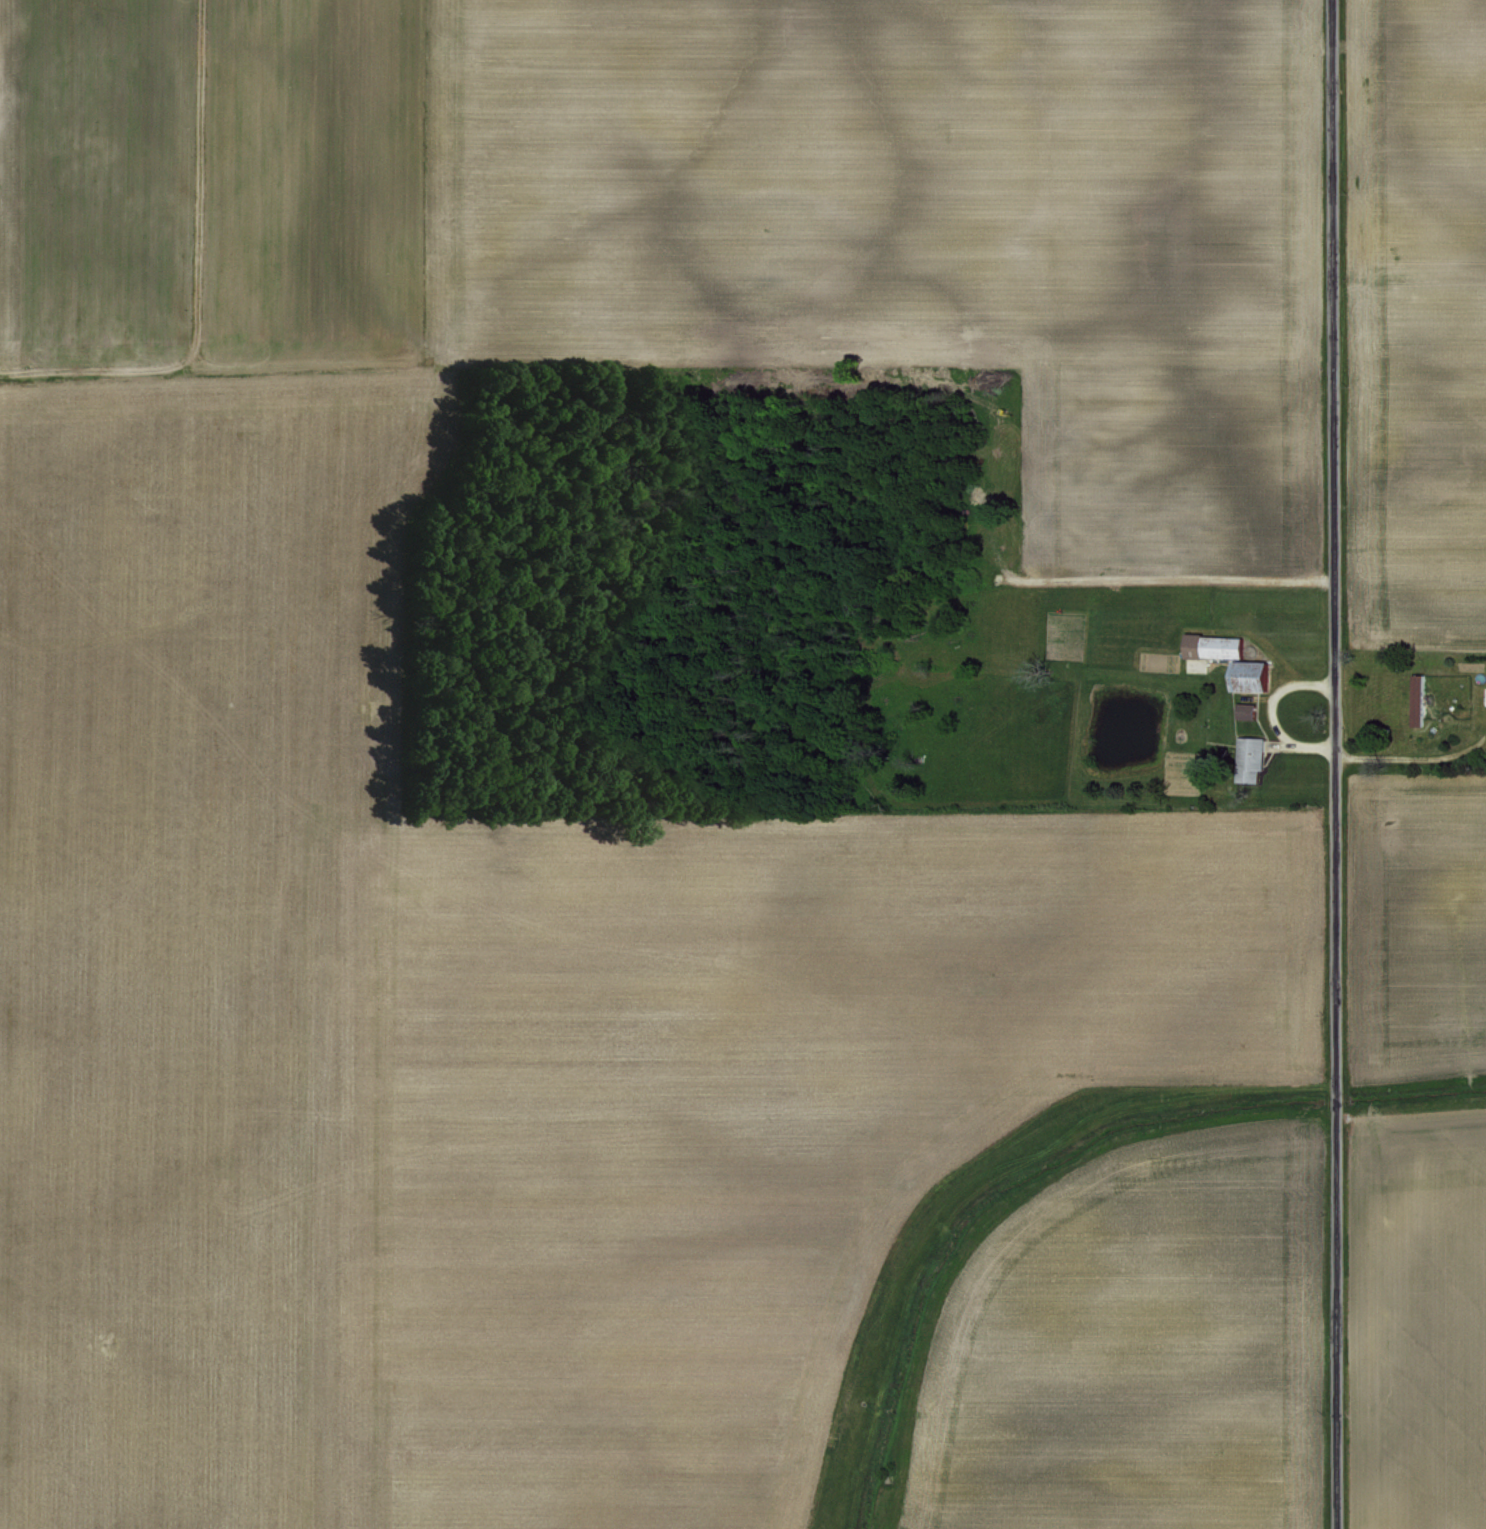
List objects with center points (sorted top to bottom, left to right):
road: (1232, 629)
building: (1210, 645)
building: (1245, 675)
building: (1415, 698)
building: (1242, 709)
road: (1410, 756)
building: (1247, 757)
road: (1331, 764)

